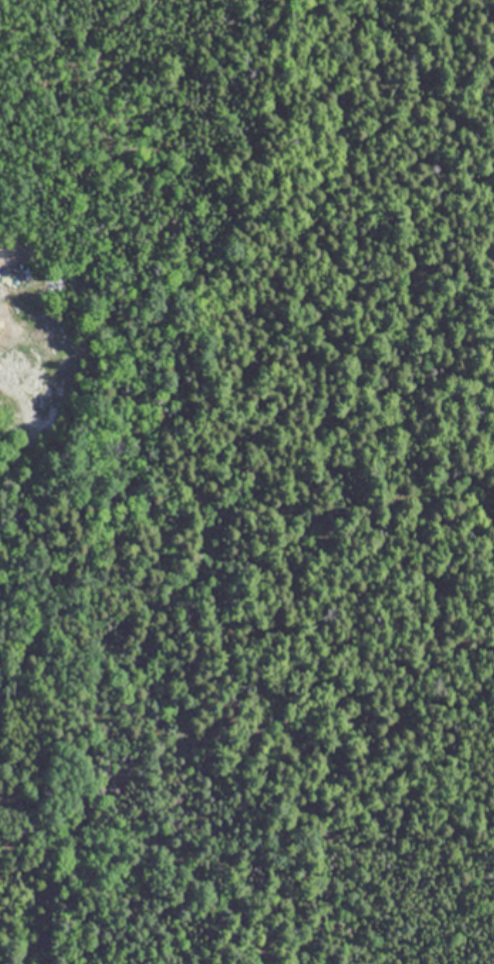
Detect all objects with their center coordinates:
road: (14, 342)
road: (165, 844)

